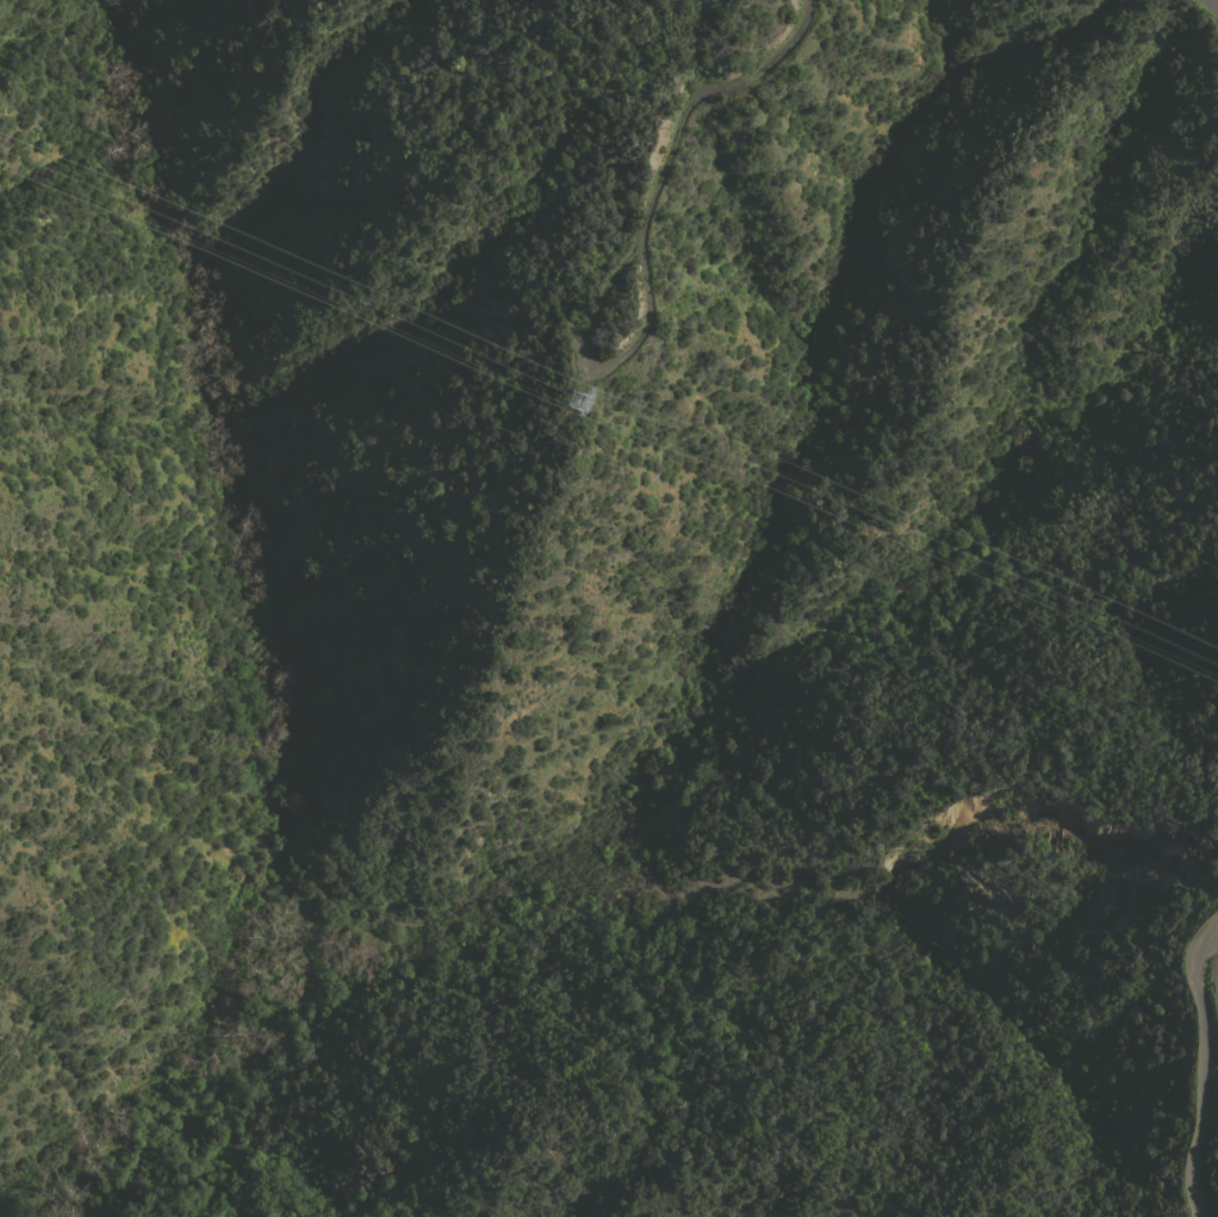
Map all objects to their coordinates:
road: (1212, 5)
road: (697, 95)
road: (594, 367)
power tower: (608, 402)
road: (1217, 963)
road: (1200, 1069)

